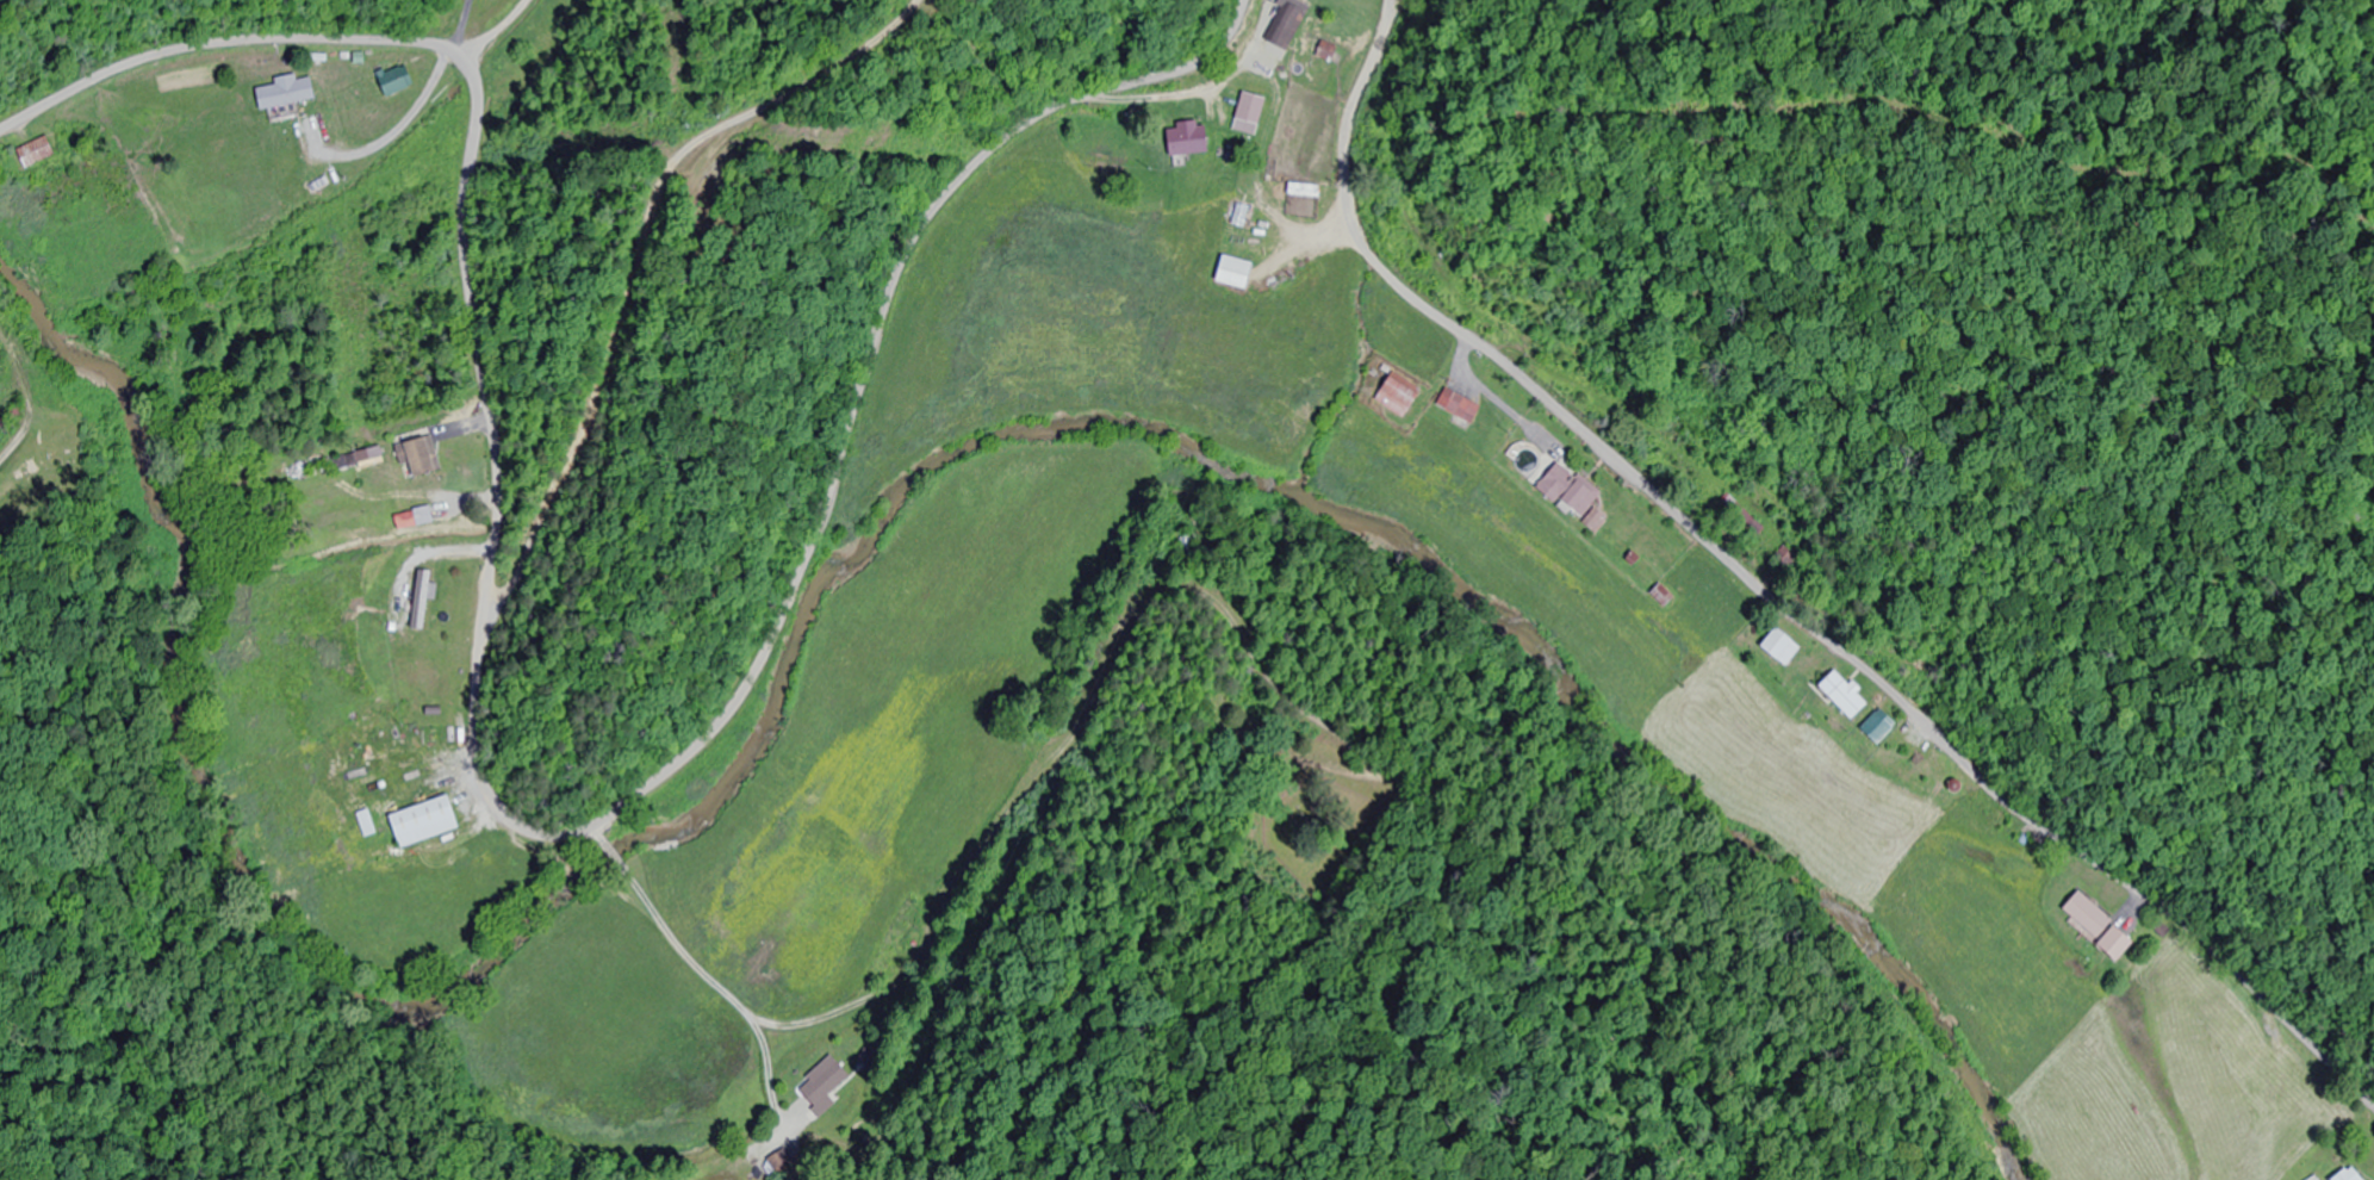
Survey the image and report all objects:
building: (1289, 25)
building: (1328, 51)
building: (399, 81)
building: (288, 93)
building: (1255, 108)
building: (1193, 139)
building: (42, 154)
road: (480, 175)
building: (1309, 197)
building: (1241, 274)
building: (1403, 397)
building: (1461, 406)
road: (843, 431)
building: (422, 457)
building: (347, 461)
building: (1572, 490)
building: (1742, 520)
building: (1597, 521)
building: (1195, 547)
road: (1766, 589)
building: (1659, 595)
building: (423, 600)
building: (1776, 647)
building: (1838, 695)
building: (1873, 727)
building: (429, 821)
building: (371, 824)
building: (2090, 925)
building: (825, 1081)
building: (2339, 1175)

